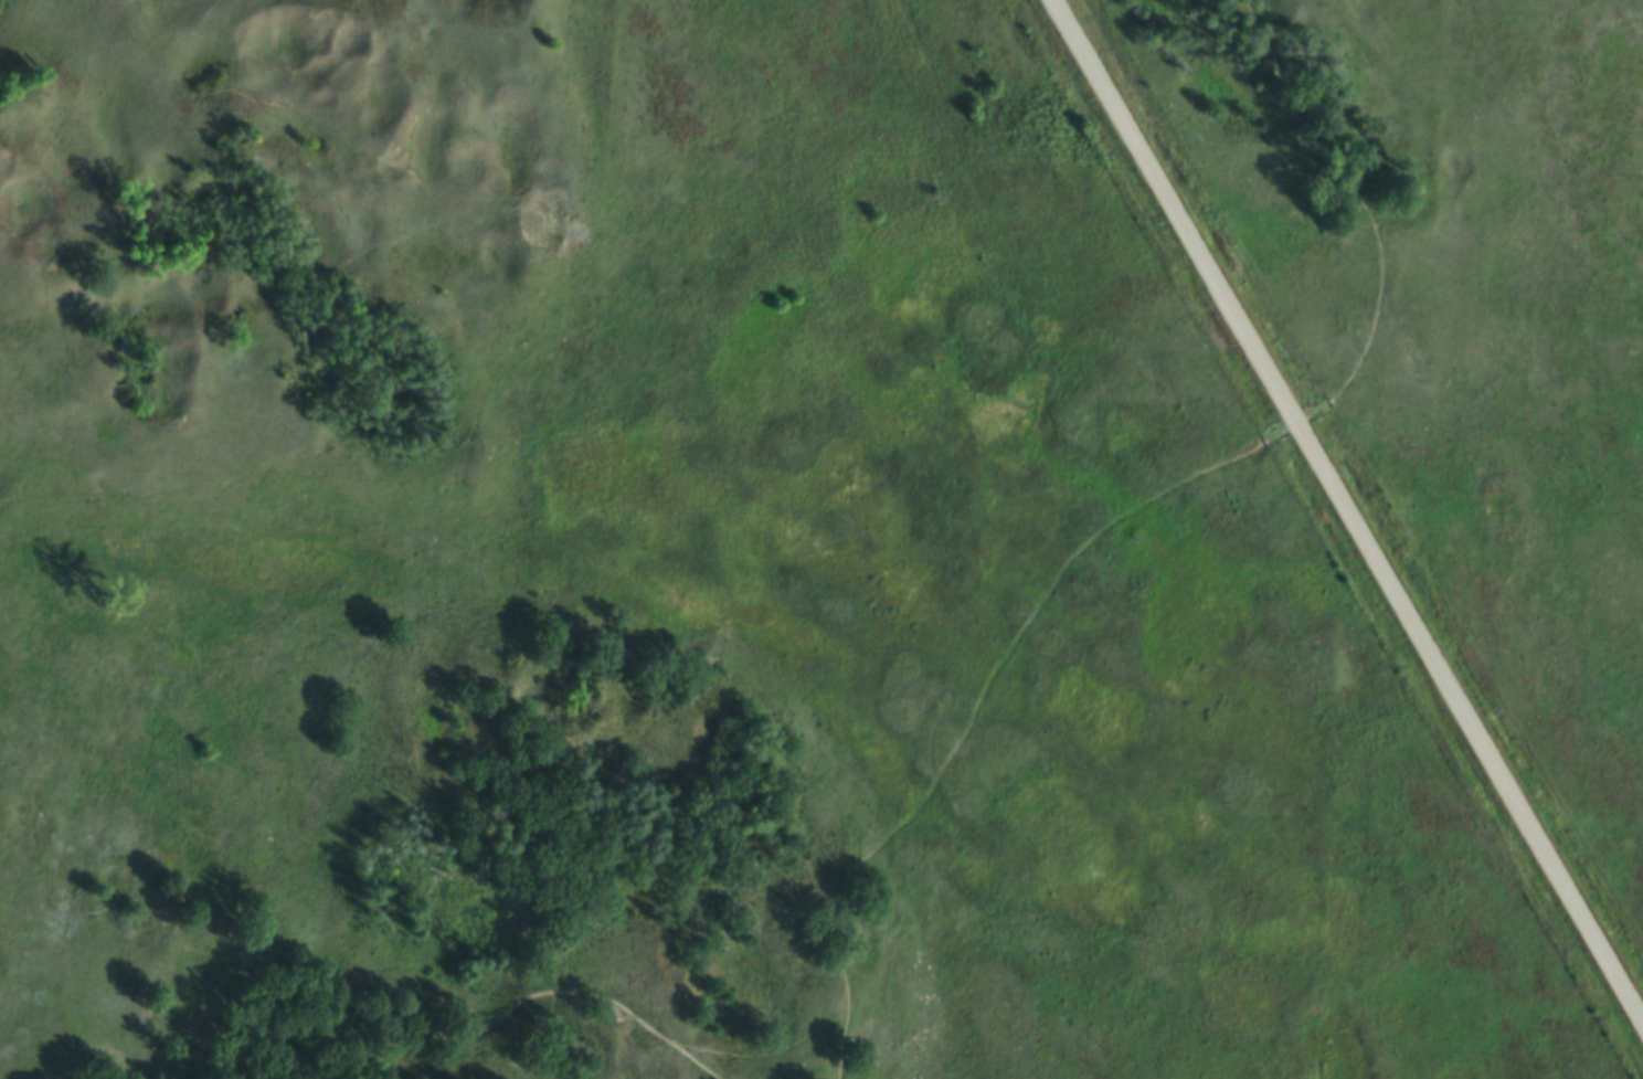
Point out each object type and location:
road: (1131, 506)
road: (1348, 512)
road: (497, 1022)

